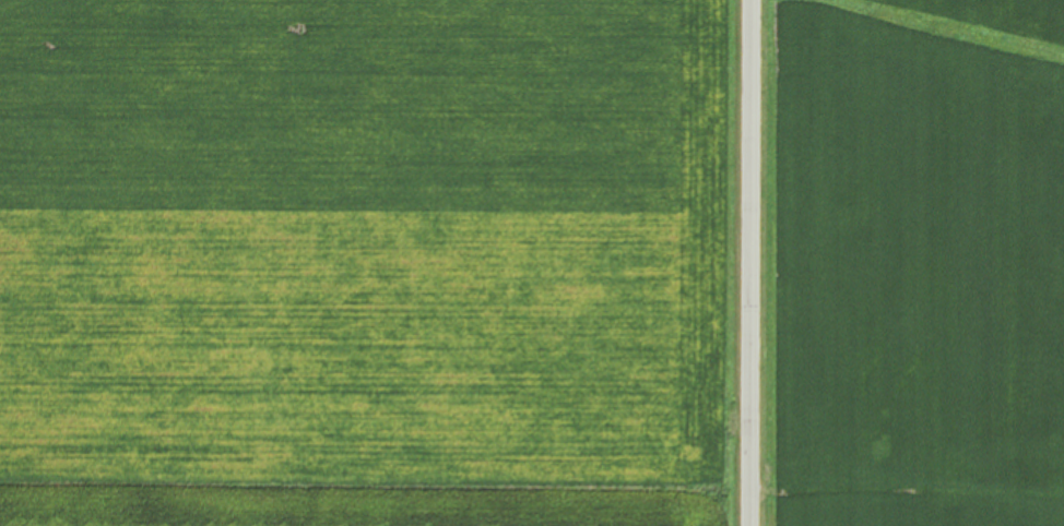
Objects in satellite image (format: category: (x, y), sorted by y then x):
road: (750, 263)

